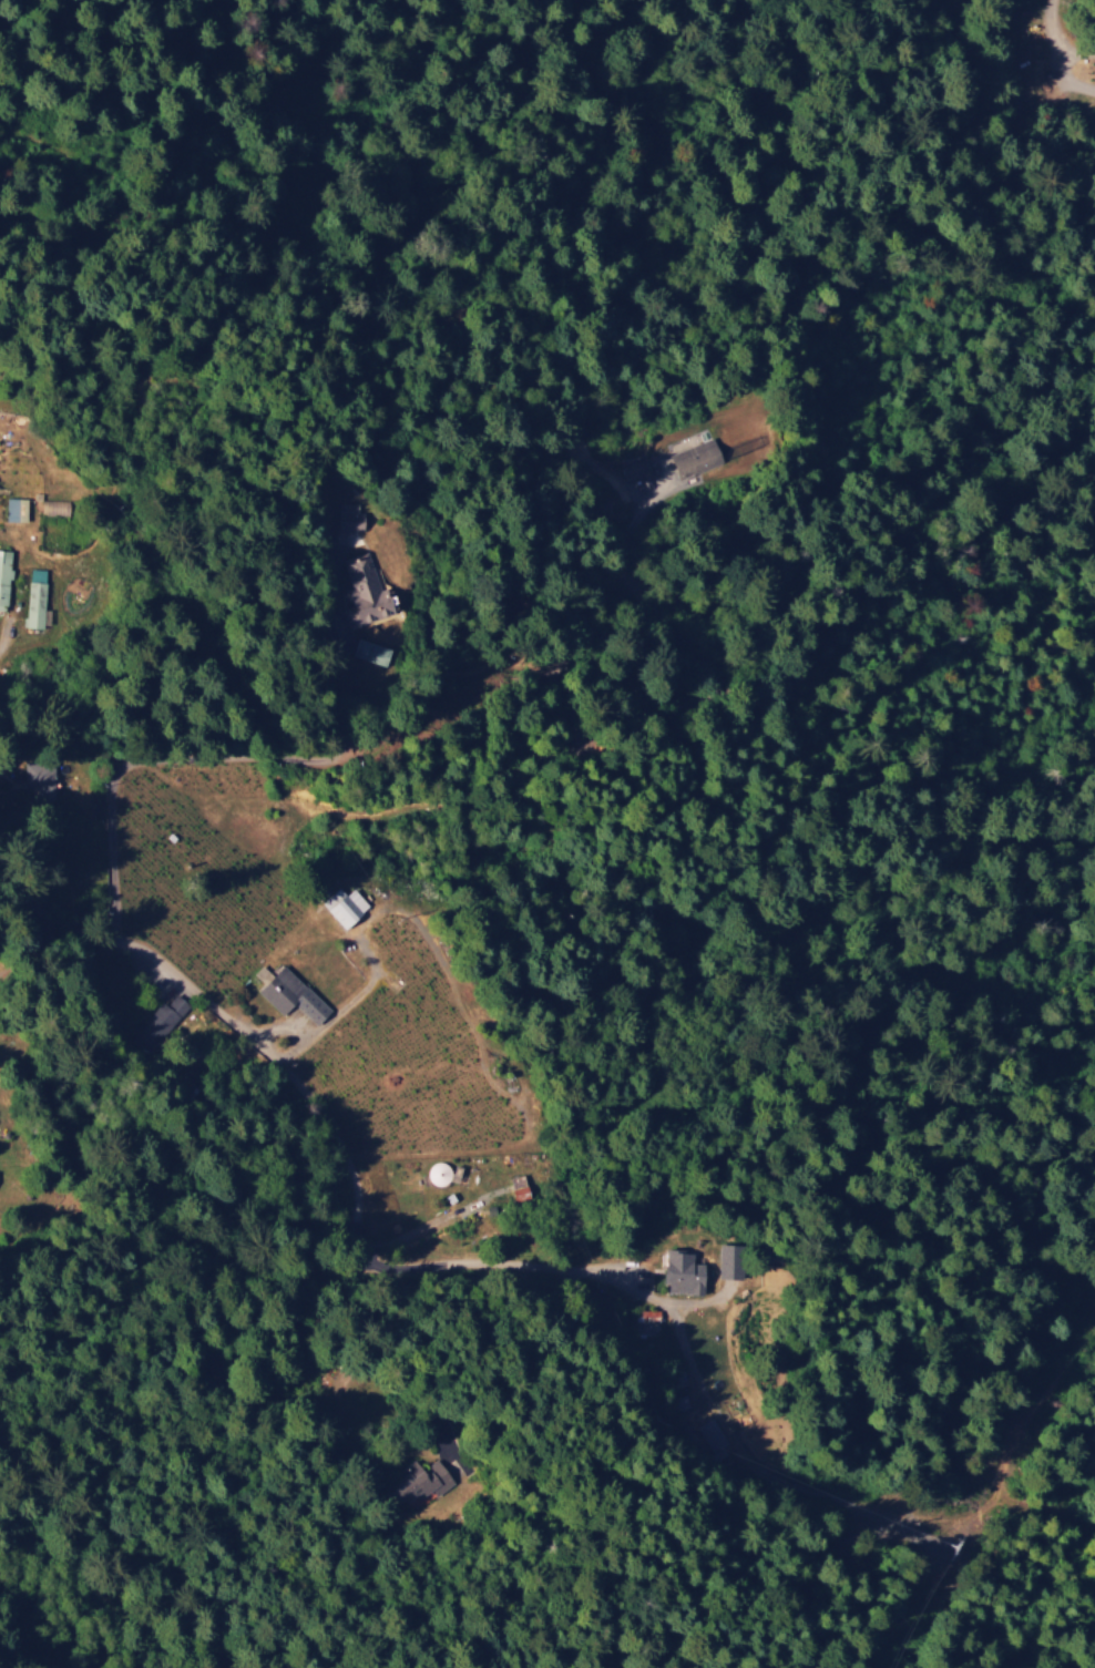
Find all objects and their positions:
building: (697, 458)
building: (54, 506)
building: (16, 509)
building: (351, 518)
building: (4, 577)
building: (365, 587)
building: (35, 597)
building: (345, 905)
road: (451, 922)
building: (289, 993)
road: (348, 1162)
building: (441, 1173)
building: (521, 1187)
building: (734, 1259)
building: (686, 1271)
road: (515, 1338)
building: (424, 1480)

